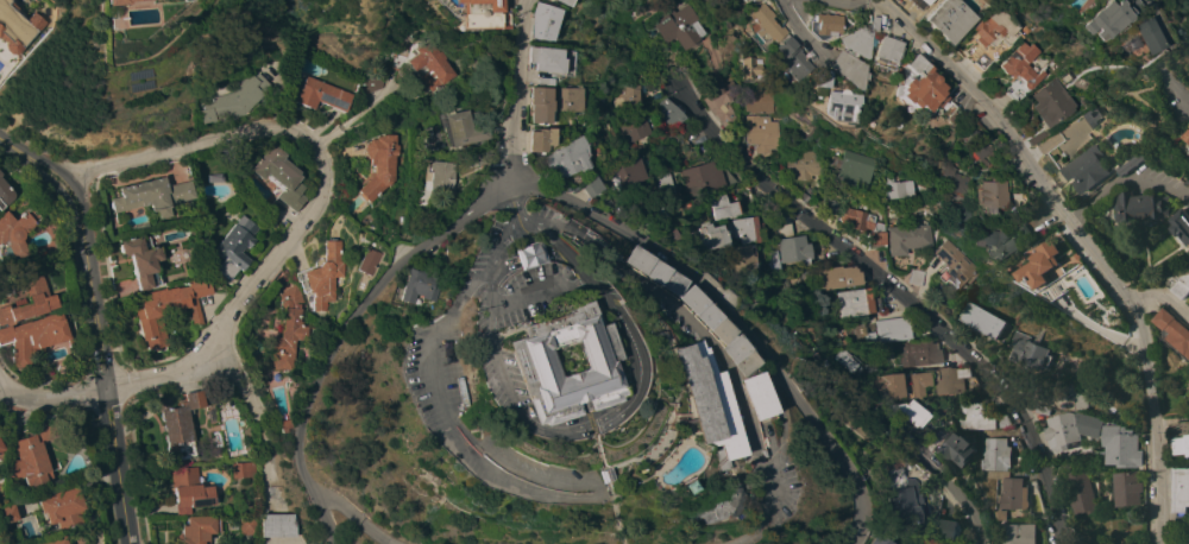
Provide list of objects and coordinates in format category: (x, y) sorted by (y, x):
building: (740, 0)
building: (744, 0)
building: (913, 0)
building: (113, 1)
building: (551, 1)
road: (773, 1)
road: (850, 2)
building: (472, 14)
building: (937, 19)
building: (1094, 19)
building: (860, 20)
building: (530, 21)
building: (760, 23)
building: (817, 25)
building: (675, 26)
building: (15, 27)
road: (794, 29)
building: (468, 36)
building: (1137, 36)
building: (980, 39)
building: (876, 51)
building: (1125, 51)
road: (1158, 51)
building: (845, 53)
building: (535, 58)
building: (786, 59)
building: (394, 61)
building: (1012, 63)
building: (424, 65)
building: (748, 68)
building: (816, 78)
building: (534, 81)
building: (367, 82)
road: (505, 87)
building: (913, 87)
building: (652, 90)
building: (321, 95)
building: (623, 96)
building: (560, 99)
building: (232, 100)
building: (718, 100)
building: (756, 101)
building: (1044, 103)
building: (527, 105)
building: (836, 105)
building: (667, 112)
building: (1088, 118)
building: (453, 129)
building: (628, 129)
building: (760, 133)
building: (1188, 133)
road: (309, 135)
building: (423, 137)
building: (530, 140)
building: (979, 148)
road: (23, 153)
building: (952, 156)
building: (560, 157)
building: (464, 159)
building: (1133, 162)
building: (377, 165)
building: (641, 165)
building: (801, 165)
building: (851, 169)
building: (1084, 170)
building: (619, 171)
building: (945, 171)
building: (278, 176)
building: (434, 176)
building: (215, 178)
building: (699, 178)
road: (1134, 178)
building: (659, 179)
building: (581, 186)
building: (956, 188)
road: (77, 189)
building: (898, 189)
building: (4, 194)
building: (804, 194)
road: (64, 195)
building: (152, 195)
building: (742, 195)
building: (989, 195)
road: (503, 198)
building: (1139, 204)
building: (830, 205)
building: (719, 207)
road: (1078, 210)
building: (958, 215)
road: (511, 222)
road: (533, 222)
building: (1181, 224)
building: (863, 226)
building: (1026, 229)
building: (742, 230)
building: (15, 232)
building: (706, 236)
building: (907, 238)
road: (1087, 238)
building: (662, 239)
building: (994, 241)
building: (789, 242)
building: (234, 246)
building: (518, 255)
building: (366, 259)
building: (738, 259)
building: (141, 260)
building: (955, 265)
building: (1011, 266)
building: (1044, 270)
building: (325, 274)
building: (916, 277)
building: (835, 278)
building: (1182, 285)
building: (413, 287)
road: (1164, 293)
road: (523, 295)
road: (902, 296)
building: (25, 299)
building: (751, 299)
road: (365, 302)
road: (587, 302)
building: (856, 302)
building: (166, 309)
building: (686, 309)
road: (94, 310)
road: (728, 317)
building: (981, 320)
road: (476, 328)
building: (287, 329)
road: (423, 329)
building: (1172, 329)
building: (892, 330)
building: (36, 336)
building: (1028, 352)
building: (916, 353)
building: (843, 360)
road: (716, 363)
building: (521, 365)
road: (170, 378)
building: (940, 381)
road: (2, 384)
building: (885, 386)
road: (2, 388)
road: (243, 391)
building: (1075, 394)
road: (56, 396)
building: (750, 396)
building: (698, 401)
building: (1040, 409)
building: (910, 413)
building: (980, 416)
road: (573, 417)
building: (180, 425)
building: (284, 425)
road: (568, 425)
building: (933, 437)
building: (1061, 437)
building: (1179, 437)
road: (581, 442)
building: (1, 447)
building: (956, 448)
road: (919, 454)
building: (993, 454)
building: (31, 456)
road: (119, 468)
road: (590, 468)
building: (243, 469)
building: (993, 474)
building: (593, 475)
road: (592, 476)
building: (680, 487)
building: (1126, 487)
building: (1181, 487)
building: (188, 489)
building: (1077, 489)
road: (598, 493)
road: (591, 496)
building: (746, 496)
building: (1009, 496)
road: (541, 498)
building: (897, 499)
road: (338, 502)
road: (315, 506)
building: (713, 507)
building: (62, 510)
road: (756, 512)
building: (6, 514)
building: (1182, 521)
building: (276, 525)
building: (247, 526)
building: (943, 527)
building: (199, 530)
road: (373, 533)
building: (1018, 533)
building: (873, 534)
building: (55, 540)
building: (926, 542)

